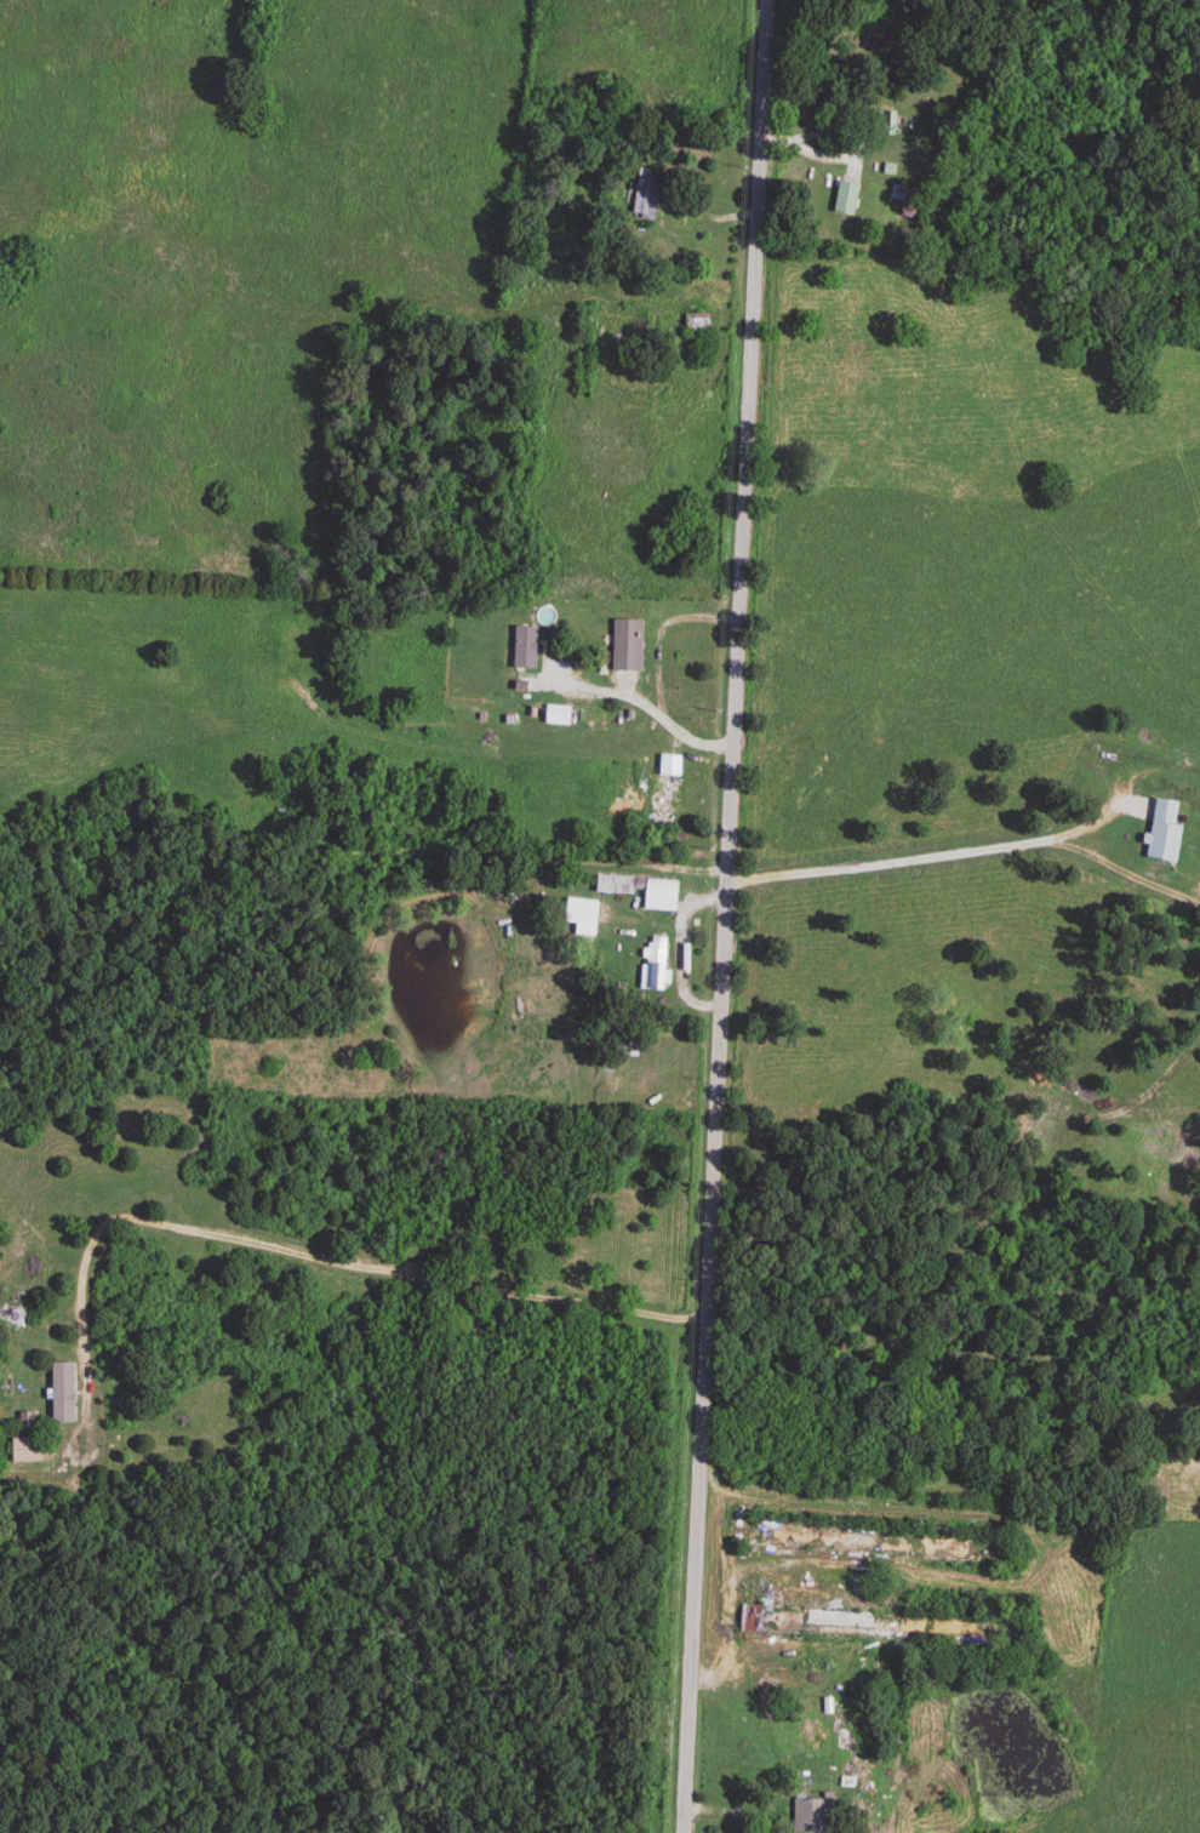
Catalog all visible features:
building: (881, 125)
building: (644, 196)
building: (844, 201)
building: (693, 326)
building: (624, 647)
building: (522, 650)
road: (641, 707)
building: (555, 718)
building: (665, 788)
building: (1160, 834)
road: (927, 858)
building: (613, 886)
building: (659, 891)
road: (724, 915)
building: (657, 965)
road: (284, 1261)
building: (24, 1452)
building: (867, 1542)
road: (726, 1584)
building: (872, 1627)
building: (806, 1812)

